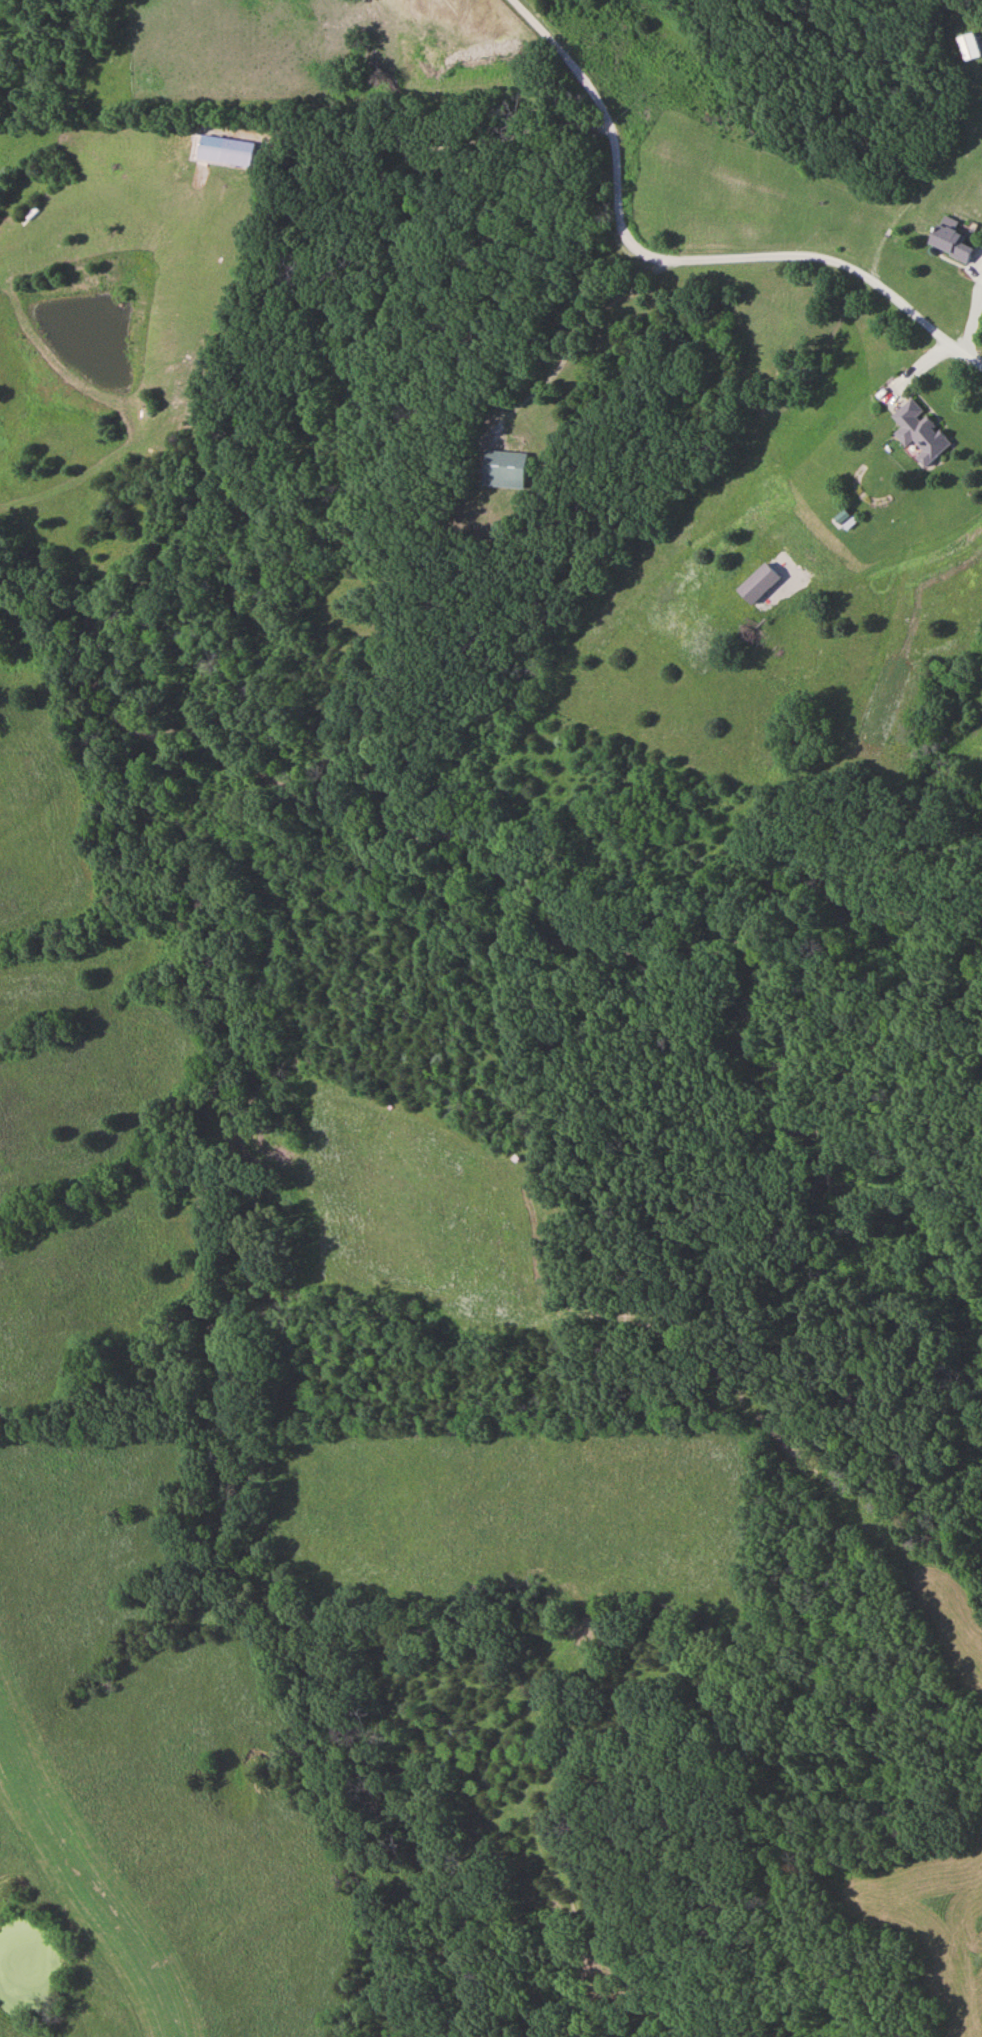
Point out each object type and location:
building: (970, 47)
building: (240, 150)
building: (951, 239)
road: (680, 260)
building: (920, 433)
building: (508, 469)

